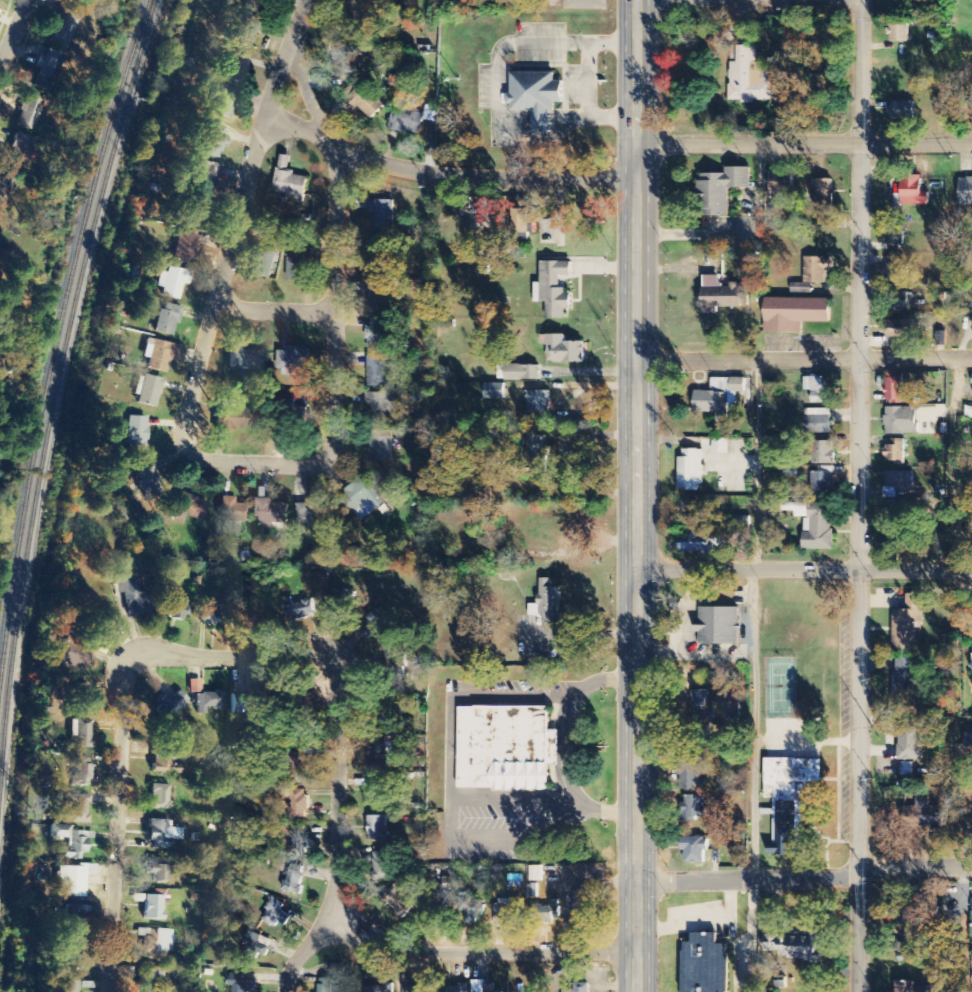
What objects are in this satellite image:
building: (359, 11)
building: (250, 23)
building: (64, 28)
building: (898, 32)
road: (14, 38)
road: (284, 56)
building: (347, 58)
building: (235, 66)
building: (47, 70)
building: (748, 76)
road: (305, 85)
building: (535, 96)
building: (223, 101)
building: (367, 101)
building: (903, 110)
building: (28, 112)
building: (406, 122)
building: (212, 142)
road: (804, 144)
building: (20, 149)
building: (202, 174)
road: (443, 177)
building: (290, 181)
building: (781, 182)
building: (5, 190)
building: (721, 190)
building: (965, 191)
building: (913, 192)
building: (823, 194)
building: (382, 215)
building: (896, 236)
building: (185, 248)
building: (263, 264)
building: (299, 264)
building: (899, 272)
building: (812, 274)
building: (172, 281)
building: (553, 290)
building: (719, 295)
building: (901, 302)
road: (274, 312)
building: (794, 314)
building: (167, 319)
building: (900, 332)
building: (378, 335)
railway: (56, 339)
building: (564, 350)
building: (161, 355)
building: (243, 358)
building: (294, 359)
road: (805, 362)
building: (379, 372)
building: (519, 373)
building: (819, 389)
building: (147, 391)
building: (494, 391)
building: (894, 391)
railway: (54, 397)
building: (719, 398)
building: (382, 403)
building: (539, 403)
building: (296, 411)
building: (968, 414)
building: (233, 419)
building: (817, 421)
building: (901, 421)
building: (136, 431)
building: (381, 447)
building: (720, 447)
building: (822, 453)
building: (896, 453)
building: (539, 456)
road: (238, 462)
building: (691, 472)
building: (148, 481)
building: (823, 482)
building: (898, 483)
road: (638, 495)
road: (865, 496)
building: (363, 499)
building: (898, 508)
building: (187, 509)
building: (234, 511)
building: (272, 512)
building: (312, 517)
building: (814, 524)
building: (730, 541)
building: (694, 544)
road: (805, 568)
building: (135, 598)
building: (547, 603)
building: (175, 610)
building: (300, 611)
building: (215, 614)
building: (909, 625)
building: (718, 626)
building: (75, 656)
road: (338, 670)
building: (903, 682)
building: (80, 697)
building: (169, 701)
building: (209, 702)
building: (245, 703)
building: (703, 708)
building: (391, 713)
building: (80, 734)
building: (968, 739)
building: (909, 740)
building: (506, 749)
building: (381, 753)
building: (165, 766)
building: (299, 766)
building: (80, 771)
building: (692, 779)
building: (374, 792)
building: (159, 797)
building: (297, 804)
building: (695, 807)
building: (78, 809)
building: (794, 812)
building: (923, 816)
building: (378, 828)
building: (162, 833)
building: (70, 842)
building: (296, 845)
building: (694, 850)
road: (916, 864)
building: (382, 865)
building: (158, 870)
building: (292, 879)
building: (72, 880)
road: (749, 881)
building: (532, 891)
building: (398, 901)
building: (153, 906)
building: (470, 906)
building: (584, 907)
building: (508, 912)
building: (548, 913)
building: (277, 918)
building: (69, 919)
building: (163, 941)
building: (256, 946)
building: (799, 947)
road: (309, 949)
building: (910, 951)
building: (66, 959)
building: (705, 964)
building: (151, 980)
building: (332, 980)
building: (67, 986)
building: (243, 986)
building: (483, 987)
building: (908, 987)
building: (379, 988)
building: (455, 988)
building: (580, 988)
building: (417, 989)
building: (932, 989)

